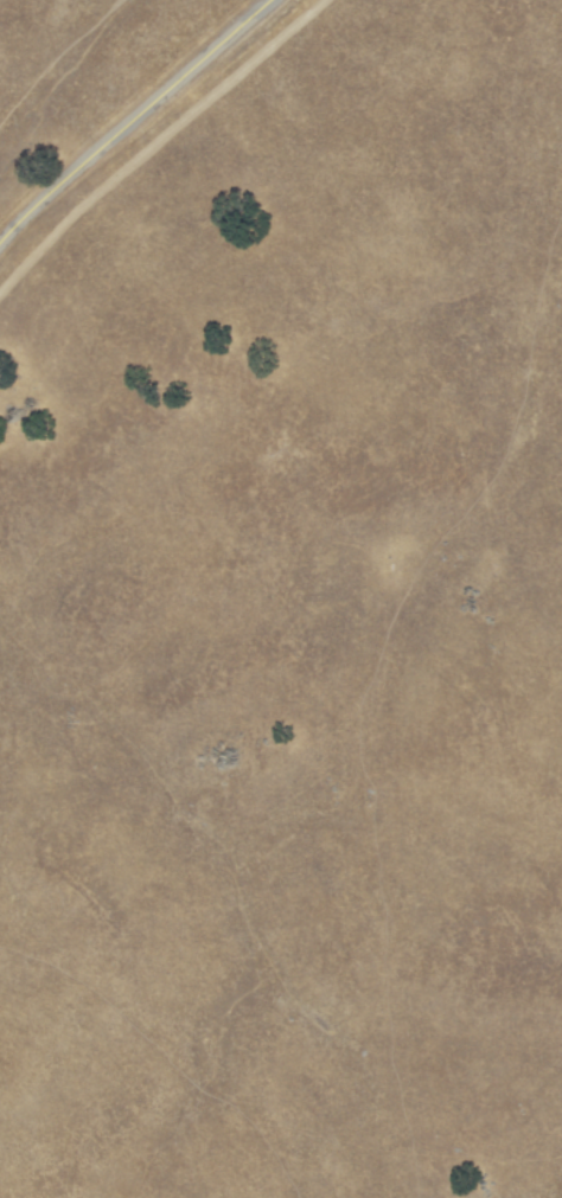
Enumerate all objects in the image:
road: (132, 123)

